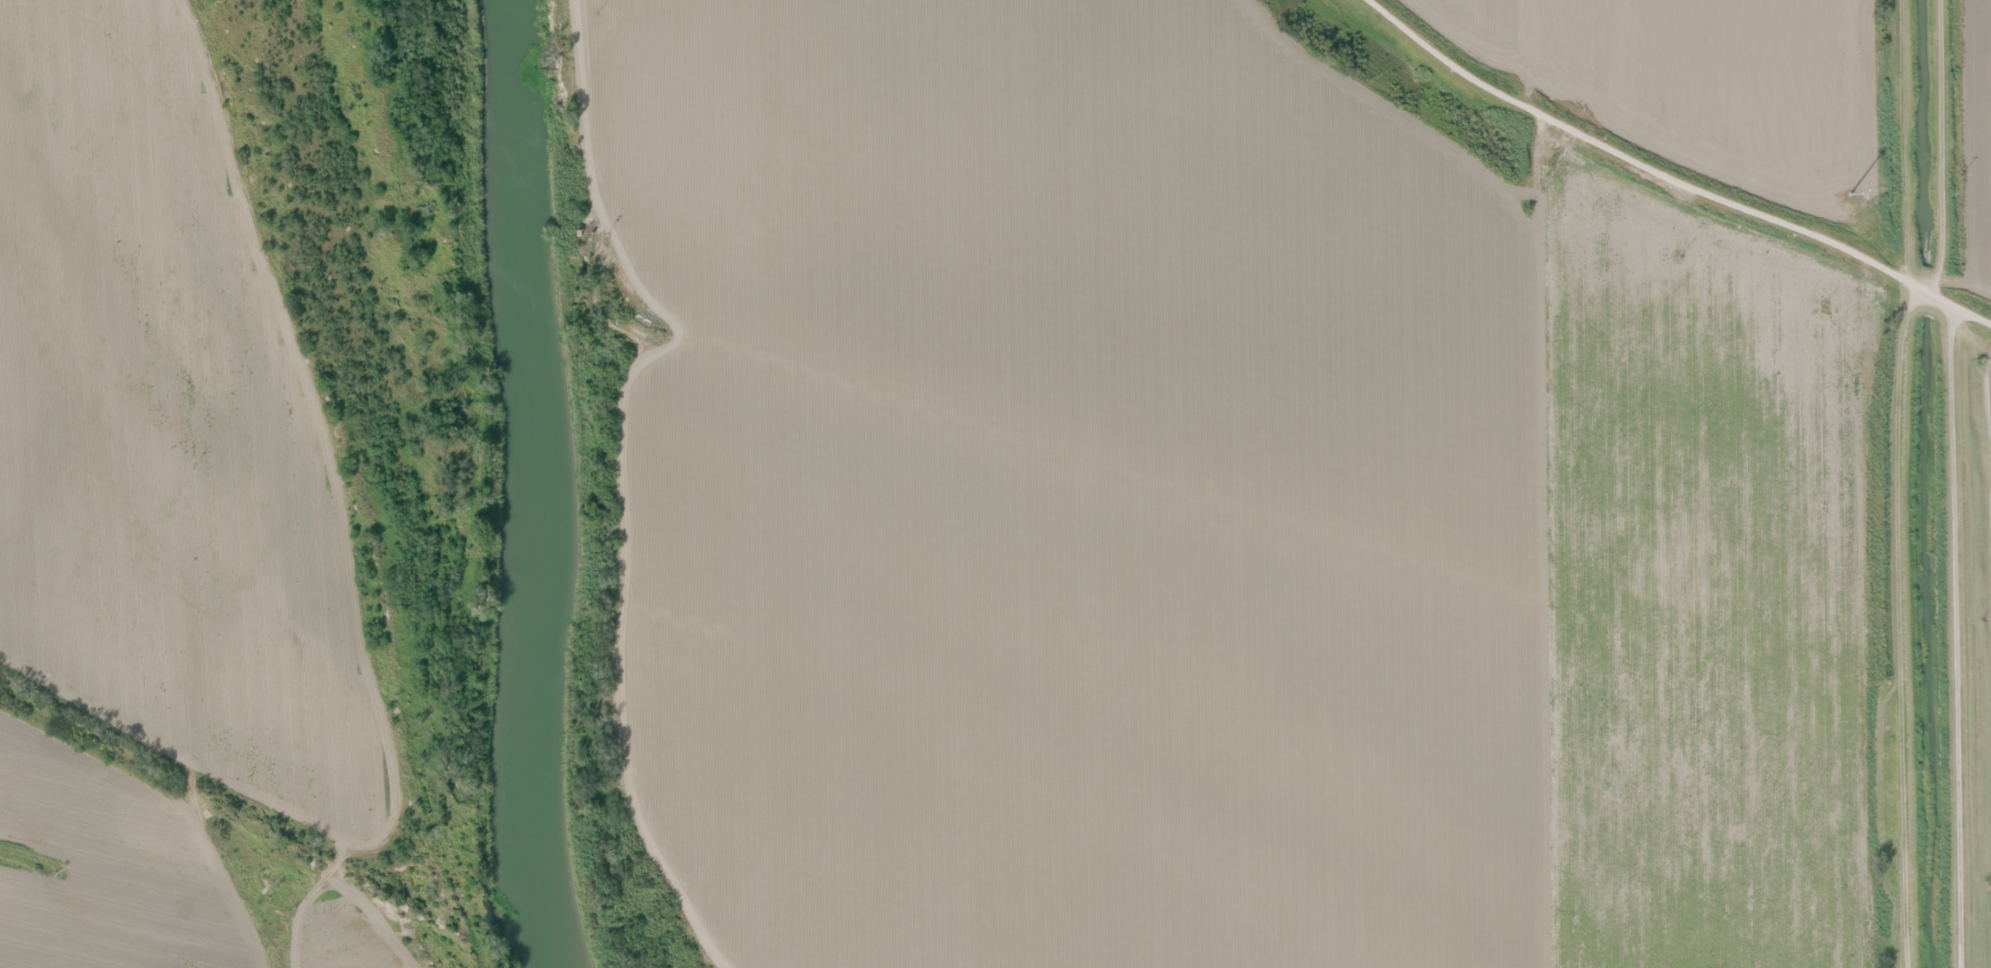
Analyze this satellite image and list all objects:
road: (1667, 181)
river: (537, 483)
road: (1951, 640)

